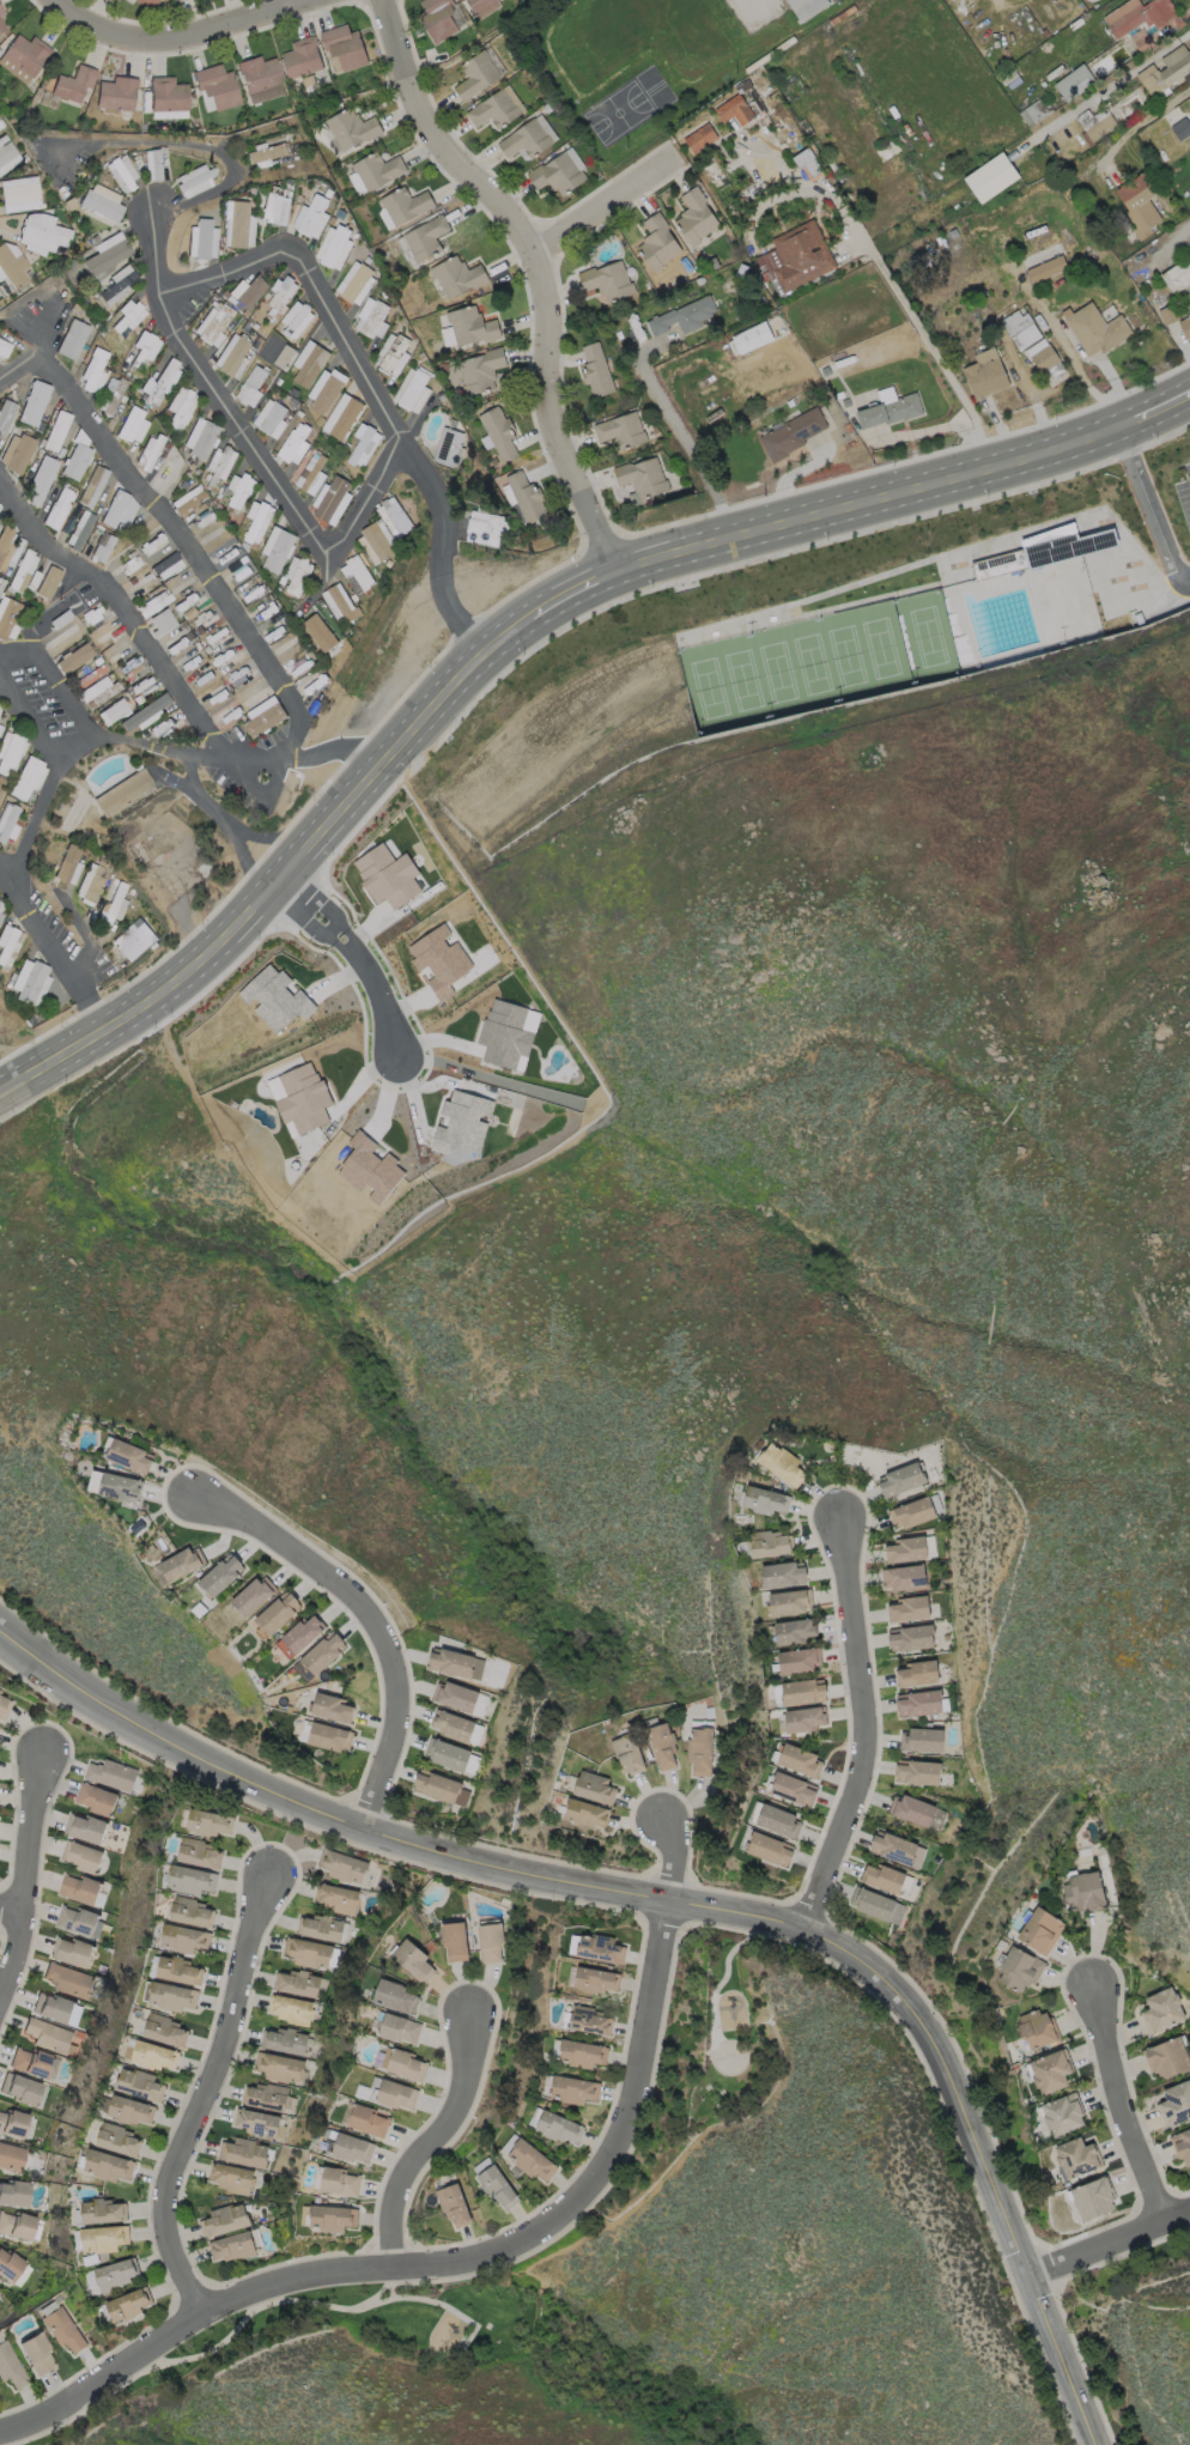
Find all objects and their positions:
building: (178, 0)
building: (146, 4)
building: (479, 5)
building: (1097, 5)
building: (807, 8)
building: (1, 12)
building: (1147, 17)
building: (438, 19)
building: (1076, 24)
building: (1, 28)
road: (178, 31)
building: (418, 32)
building: (1142, 41)
building: (346, 48)
building: (26, 54)
building: (303, 59)
building: (1110, 61)
building: (526, 72)
building: (1166, 73)
building: (259, 74)
building: (476, 77)
building: (309, 81)
building: (1075, 84)
building: (74, 85)
building: (745, 86)
building: (218, 87)
road: (1105, 87)
building: (117, 95)
building: (168, 96)
building: (758, 102)
building: (1129, 102)
building: (548, 109)
building: (494, 111)
building: (735, 111)
building: (1036, 113)
building: (0, 127)
building: (1101, 128)
building: (352, 129)
building: (807, 129)
building: (1182, 129)
building: (907, 131)
building: (702, 139)
building: (527, 141)
road: (194, 145)
building: (6, 154)
building: (267, 154)
building: (888, 154)
building: (156, 165)
building: (809, 165)
building: (833, 166)
building: (378, 171)
building: (122, 175)
building: (558, 175)
building: (992, 178)
building: (195, 181)
building: (18, 194)
building: (330, 194)
road: (607, 201)
building: (1140, 205)
building: (101, 206)
building: (406, 206)
building: (272, 208)
building: (338, 211)
building: (314, 216)
building: (696, 218)
building: (1028, 219)
building: (237, 226)
building: (41, 232)
building: (954, 233)
road: (1173, 236)
building: (426, 238)
building: (202, 239)
building: (941, 241)
building: (389, 242)
building: (658, 243)
building: (336, 247)
building: (107, 255)
building: (802, 256)
building: (369, 261)
building: (11, 265)
road: (541, 265)
building: (1048, 271)
building: (380, 273)
building: (459, 277)
building: (766, 277)
building: (1178, 277)
building: (608, 281)
building: (700, 281)
building: (357, 284)
building: (113, 286)
building: (661, 289)
road: (898, 292)
building: (251, 293)
building: (224, 296)
building: (281, 296)
building: (763, 302)
building: (1189, 308)
building: (1055, 314)
building: (1168, 316)
building: (685, 317)
building: (375, 320)
building: (296, 321)
building: (215, 323)
building: (473, 327)
building: (1185, 328)
building: (1021, 329)
building: (1097, 330)
building: (266, 335)
building: (69, 338)
building: (753, 339)
building: (145, 346)
building: (4, 347)
building: (414, 347)
building: (708, 351)
road: (1063, 351)
building: (394, 354)
building: (235, 357)
building: (284, 357)
building: (423, 357)
building: (1045, 359)
building: (309, 364)
building: (445, 368)
building: (92, 371)
building: (481, 371)
building: (596, 372)
building: (986, 378)
building: (159, 381)
road: (369, 384)
building: (254, 388)
building: (414, 390)
building: (441, 394)
building: (328, 396)
building: (839, 396)
building: (290, 399)
building: (846, 404)
building: (180, 407)
road: (1153, 408)
building: (891, 412)
building: (5, 413)
building: (273, 419)
building: (346, 419)
building: (454, 424)
building: (132, 425)
building: (849, 429)
building: (56, 431)
building: (623, 431)
building: (315, 433)
building: (499, 433)
building: (793, 435)
building: (199, 437)
road: (681, 437)
building: (296, 444)
building: (347, 444)
road: (250, 447)
building: (362, 447)
building: (449, 448)
building: (148, 450)
building: (14, 453)
building: (74, 461)
building: (219, 463)
building: (314, 474)
building: (643, 479)
building: (40, 480)
building: (91, 485)
parking lot: (1183, 485)
building: (238, 489)
building: (527, 498)
building: (332, 499)
building: (186, 500)
building: (57, 508)
building: (114, 508)
road: (1149, 508)
building: (397, 517)
building: (488, 526)
building: (79, 529)
road: (172, 534)
building: (517, 534)
building: (511, 535)
building: (377, 541)
building: (96, 545)
building: (6, 548)
building: (277, 548)
building: (1046, 552)
building: (166, 565)
building: (22, 570)
building: (241, 571)
building: (296, 575)
building: (357, 575)
building: (48, 581)
building: (340, 602)
building: (153, 603)
building: (7, 615)
building: (1139, 620)
building: (160, 623)
building: (318, 632)
road: (482, 637)
road: (150, 651)
road: (19, 655)
building: (73, 659)
park: (815, 661)
building: (96, 691)
road: (69, 698)
building: (0, 708)
road: (34, 710)
building: (113, 711)
building: (145, 712)
building: (263, 716)
building: (0, 727)
road: (146, 746)
building: (10, 753)
road: (170, 777)
building: (26, 778)
building: (122, 791)
road: (200, 799)
building: (7, 821)
road: (238, 836)
building: (67, 864)
building: (387, 875)
building: (90, 881)
building: (1, 906)
building: (113, 906)
road: (86, 935)
building: (134, 939)
building: (8, 945)
road: (50, 947)
road: (350, 948)
building: (439, 959)
building: (29, 979)
building: (274, 999)
building: (504, 1033)
building: (302, 1098)
building: (462, 1123)
building: (369, 1169)
building: (129, 1456)
building: (778, 1461)
building: (900, 1480)
building: (114, 1485)
building: (765, 1500)
building: (911, 1512)
building: (769, 1543)
building: (905, 1549)
building: (181, 1563)
building: (781, 1575)
building: (220, 1576)
building: (905, 1577)
building: (253, 1595)
building: (787, 1602)
building: (907, 1609)
building: (278, 1612)
road: (368, 1615)
building: (793, 1630)
building: (910, 1638)
building: (318, 1656)
building: (797, 1660)
building: (451, 1662)
building: (916, 1673)
building: (801, 1691)
building: (460, 1698)
building: (917, 1703)
building: (4, 1704)
building: (332, 1707)
building: (802, 1718)
building: (453, 1725)
road: (863, 1731)
building: (328, 1737)
building: (921, 1740)
building: (662, 1746)
building: (699, 1751)
building: (627, 1752)
building: (449, 1754)
building: (797, 1759)
building: (916, 1772)
building: (111, 1774)
building: (591, 1785)
building: (442, 1788)
building: (791, 1789)
building: (95, 1798)
building: (911, 1809)
building: (584, 1814)
building: (777, 1820)
building: (86, 1828)
building: (892, 1846)
road: (676, 1849)
building: (770, 1849)
building: (199, 1854)
road: (23, 1856)
building: (84, 1856)
building: (344, 1865)
building: (881, 1877)
building: (192, 1880)
building: (80, 1889)
building: (1082, 1889)
building: (336, 1898)
building: (870, 1903)
road: (676, 1905)
road: (6, 1906)
building: (190, 1912)
building: (78, 1922)
building: (321, 1928)
building: (1039, 1930)
building: (184, 1939)
building: (454, 1940)
building: (490, 1942)
building: (597, 1948)
building: (71, 1950)
building: (306, 1952)
building: (413, 1960)
building: (1019, 1970)
building: (178, 1971)
building: (68, 1979)
building: (593, 1979)
building: (299, 1984)
building: (395, 1995)
building: (171, 1996)
building: (56, 2008)
building: (291, 2009)
building: (1162, 2009)
building: (588, 2020)
building: (399, 2028)
building: (164, 2030)
building: (1037, 2031)
building: (48, 2036)
building: (286, 2040)
building: (579, 2053)
building: (152, 2055)
building: (1167, 2057)
building: (30, 2062)
building: (405, 2064)
building: (280, 2067)
building: (1050, 2071)
building: (139, 2085)
road: (204, 2089)
building: (571, 2089)
building: (25, 2091)
building: (265, 2095)
building: (1174, 2103)
road: (1122, 2107)
building: (130, 2110)
building: (1061, 2115)
building: (366, 2121)
building: (12, 2123)
building: (260, 2123)
building: (558, 2127)
road: (429, 2135)
building: (117, 2140)
building: (1182, 2146)
building: (352, 2148)
building: (245, 2153)
building: (11, 2156)
building: (1075, 2156)
building: (530, 2160)
building: (107, 2165)
building: (231, 2178)
building: (339, 2182)
building: (494, 2183)
building: (13, 2194)
building: (1092, 2198)
building: (453, 2206)
building: (102, 2210)
building: (332, 2218)
building: (224, 2220)
road: (534, 2220)
building: (18, 2226)
building: (102, 2238)
road: (1109, 2243)
building: (233, 2246)
building: (115, 2273)
building: (128, 2304)
building: (62, 2329)
building: (36, 2353)
road: (102, 2377)

